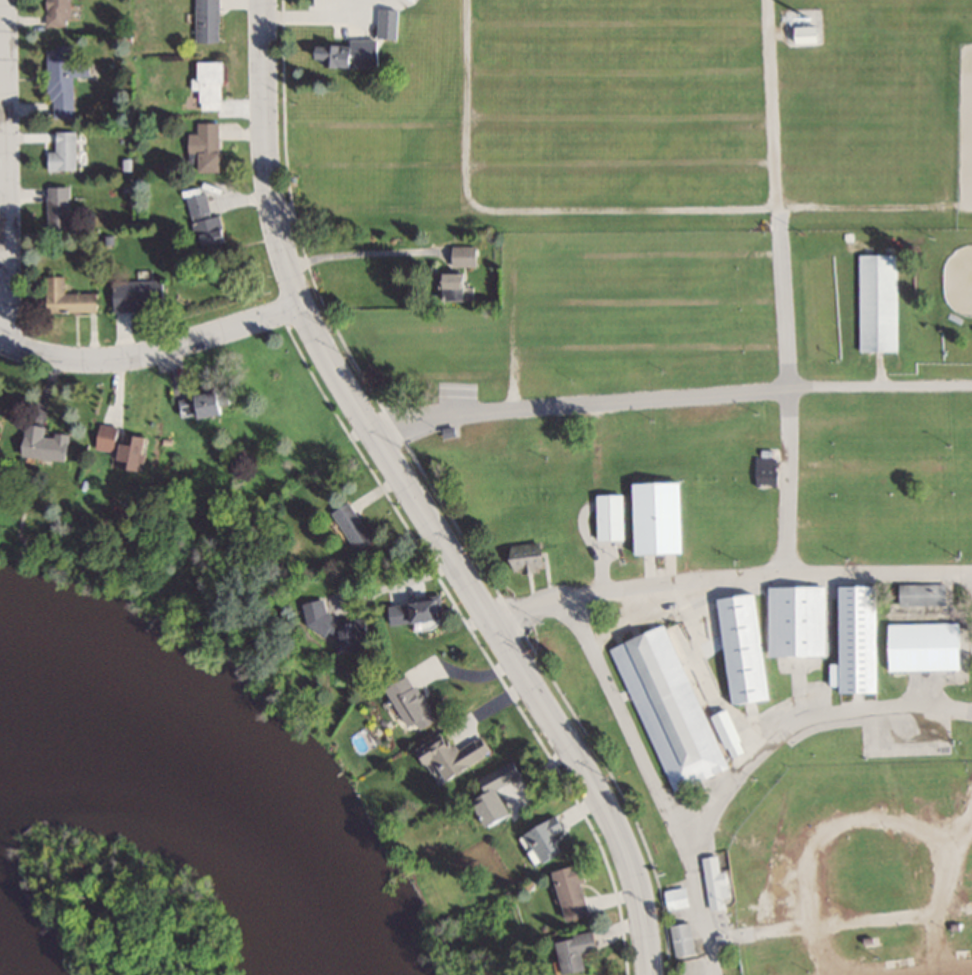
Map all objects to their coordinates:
building: (59, 13)
building: (210, 20)
building: (390, 23)
building: (808, 34)
building: (342, 56)
building: (64, 80)
building: (213, 85)
building: (208, 146)
building: (65, 151)
road: (8, 173)
building: (59, 207)
building: (209, 224)
building: (467, 255)
building: (961, 278)
road: (783, 285)
building: (458, 286)
building: (140, 296)
building: (69, 298)
building: (875, 302)
road: (153, 353)
road: (669, 400)
building: (207, 403)
building: (3, 407)
building: (2, 427)
park: (710, 434)
building: (113, 436)
building: (52, 442)
building: (138, 449)
road: (417, 500)
building: (612, 516)
building: (661, 516)
building: (355, 525)
building: (533, 555)
road: (880, 570)
road: (639, 594)
building: (920, 594)
building: (421, 610)
building: (799, 620)
building: (344, 625)
building: (857, 638)
building: (920, 646)
building: (744, 647)
building: (415, 702)
building: (670, 708)
building: (730, 732)
building: (457, 753)
building: (505, 794)
road: (714, 800)
building: (551, 839)
building: (718, 881)
building: (576, 892)
road: (698, 896)
building: (679, 897)
building: (685, 939)
building: (579, 951)

